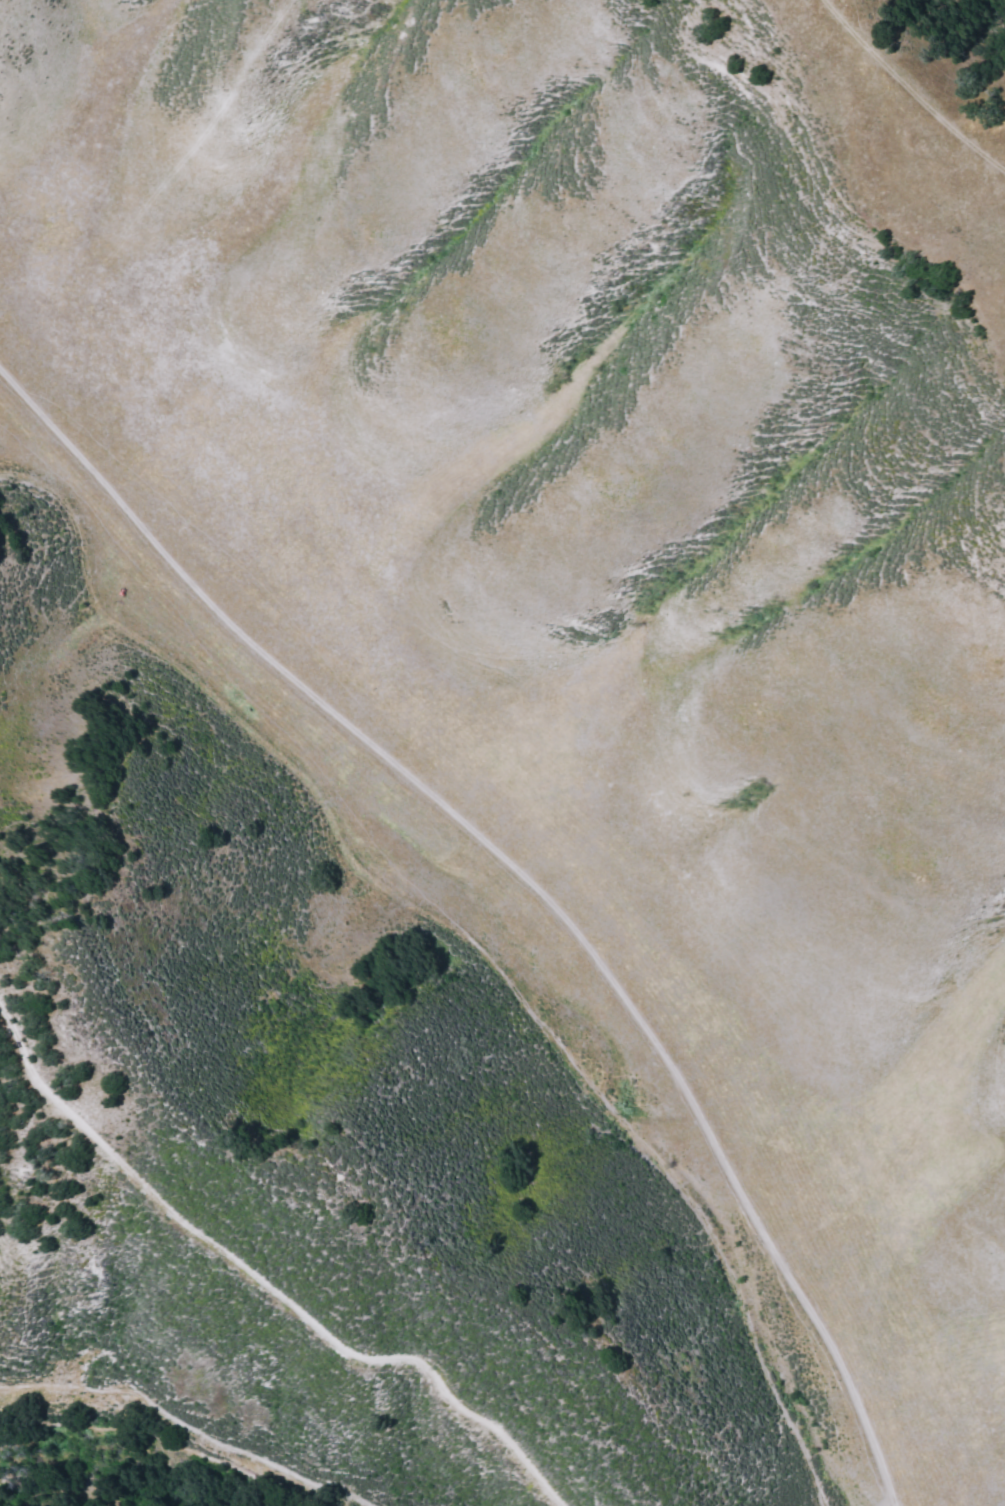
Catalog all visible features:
road: (913, 86)
road: (523, 881)

